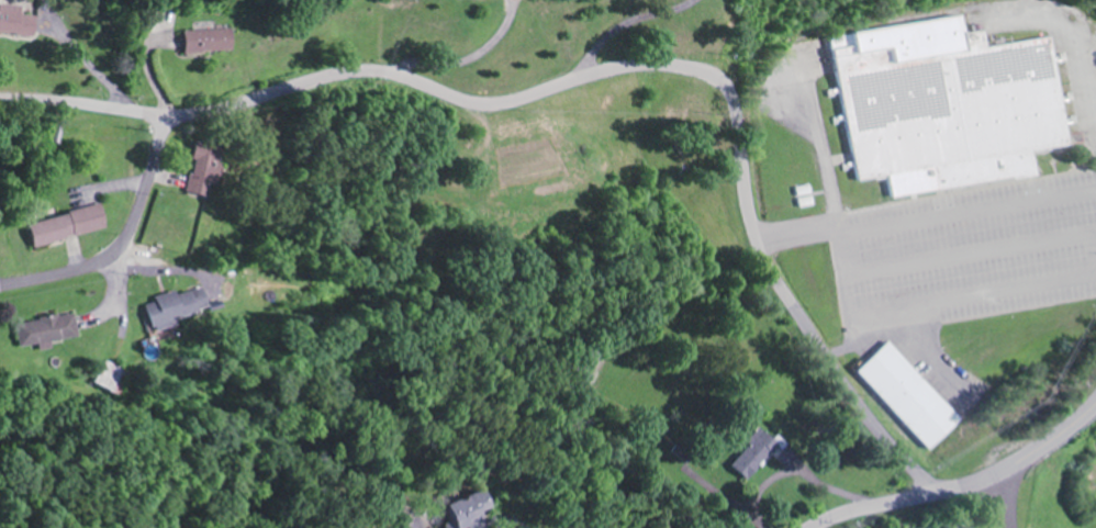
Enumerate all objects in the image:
building: (21, 23)
building: (220, 43)
road: (674, 64)
building: (949, 106)
road: (83, 109)
building: (208, 171)
road: (929, 218)
building: (70, 227)
road: (120, 241)
building: (180, 308)
building: (52, 332)
building: (909, 396)
building: (750, 454)
road: (1021, 458)
road: (1003, 501)
road: (872, 506)
building: (462, 509)
building: (955, 526)

